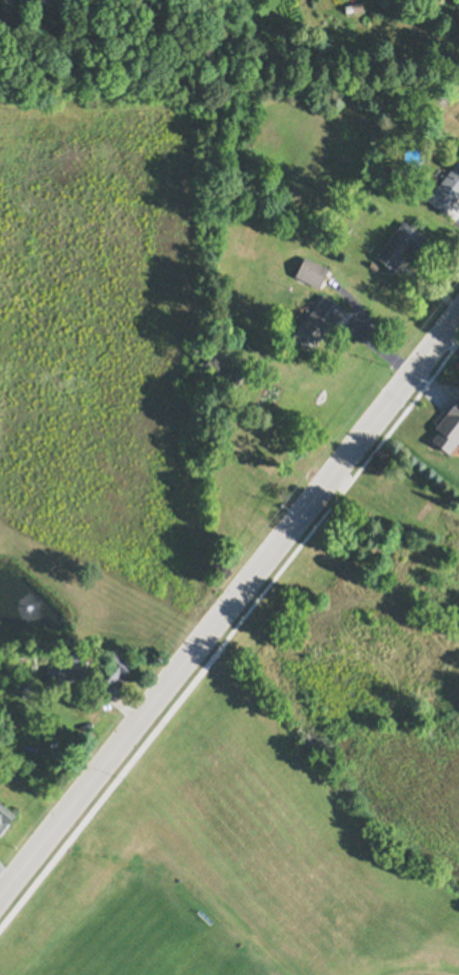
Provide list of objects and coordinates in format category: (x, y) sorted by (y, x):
building: (24, 0)
building: (32, 2)
building: (354, 6)
building: (446, 189)
building: (400, 245)
building: (373, 265)
building: (312, 271)
building: (318, 322)
building: (236, 378)
building: (268, 449)
building: (398, 496)
building: (239, 497)
building: (232, 527)
road: (229, 608)
building: (352, 639)
building: (74, 660)
building: (389, 660)
building: (114, 671)
building: (389, 702)
building: (5, 818)
park: (156, 930)

